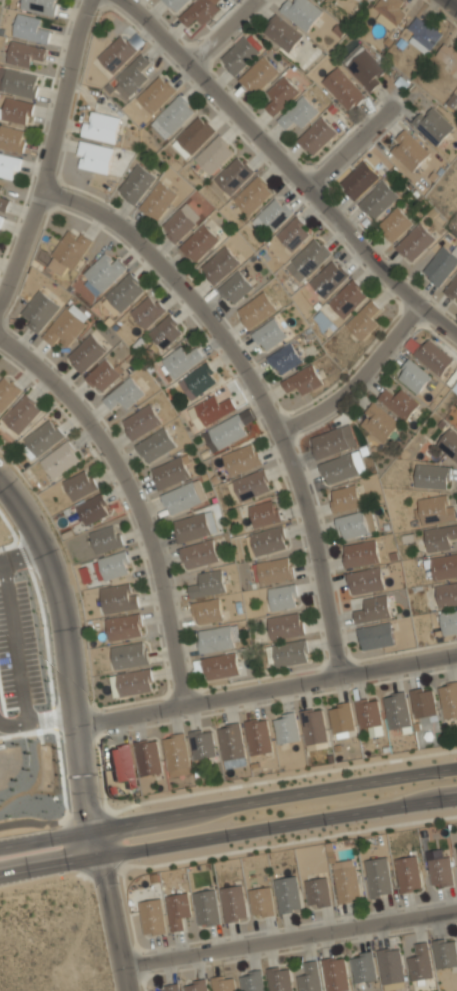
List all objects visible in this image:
building: (357, 0)
building: (371, 0)
building: (175, 4)
road: (451, 4)
building: (40, 6)
building: (200, 11)
building: (301, 13)
building: (389, 13)
building: (30, 28)
road: (220, 31)
building: (282, 34)
building: (423, 36)
building: (24, 53)
building: (116, 53)
building: (448, 55)
building: (239, 57)
building: (364, 67)
building: (130, 76)
building: (258, 76)
building: (18, 82)
building: (343, 89)
building: (156, 94)
building: (280, 95)
building: (16, 111)
building: (298, 114)
building: (172, 117)
building: (433, 125)
building: (101, 126)
building: (192, 137)
building: (316, 137)
building: (12, 138)
road: (345, 148)
building: (408, 151)
building: (213, 156)
road: (50, 157)
building: (94, 157)
building: (8, 166)
road: (287, 168)
building: (233, 177)
building: (359, 181)
building: (135, 184)
building: (1, 189)
building: (252, 196)
building: (158, 201)
building: (378, 201)
building: (4, 204)
building: (273, 215)
building: (1, 221)
building: (394, 225)
building: (177, 226)
building: (293, 234)
building: (199, 244)
building: (414, 244)
building: (69, 250)
building: (310, 258)
building: (219, 265)
building: (440, 266)
building: (104, 270)
building: (328, 280)
building: (235, 287)
building: (452, 289)
building: (124, 292)
building: (346, 298)
building: (255, 310)
building: (39, 311)
building: (146, 311)
building: (321, 320)
building: (363, 320)
building: (66, 326)
building: (165, 333)
building: (268, 334)
building: (86, 354)
building: (284, 358)
building: (433, 358)
building: (180, 361)
building: (103, 375)
building: (413, 378)
road: (355, 379)
building: (302, 380)
building: (197, 381)
road: (254, 385)
building: (455, 388)
building: (8, 391)
building: (124, 393)
building: (398, 403)
building: (209, 410)
building: (22, 414)
building: (140, 421)
building: (378, 422)
building: (227, 432)
building: (41, 438)
building: (333, 441)
building: (154, 445)
building: (448, 445)
building: (59, 459)
building: (241, 460)
building: (342, 467)
building: (171, 471)
building: (431, 476)
building: (80, 484)
building: (250, 485)
road: (129, 494)
building: (182, 497)
building: (344, 499)
building: (93, 508)
building: (434, 510)
building: (263, 513)
building: (355, 525)
building: (194, 526)
building: (439, 538)
building: (105, 539)
building: (268, 540)
building: (197, 553)
building: (359, 554)
road: (23, 555)
building: (115, 565)
building: (443, 567)
building: (274, 570)
building: (364, 580)
building: (207, 583)
building: (446, 594)
building: (282, 597)
building: (119, 598)
building: (372, 609)
building: (207, 611)
building: (449, 622)
building: (124, 626)
building: (285, 626)
building: (376, 636)
building: (217, 638)
road: (67, 645)
building: (289, 653)
building: (129, 655)
parking lot: (19, 656)
building: (219, 666)
road: (267, 679)
building: (135, 682)
building: (448, 700)
building: (422, 703)
building: (397, 711)
building: (368, 713)
building: (341, 718)
road: (40, 725)
building: (313, 727)
building: (286, 729)
building: (258, 736)
building: (202, 745)
building: (232, 745)
building: (177, 755)
building: (148, 757)
building: (122, 764)
road: (228, 805)
road: (228, 833)
building: (456, 848)
building: (440, 872)
building: (407, 874)
building: (377, 877)
building: (345, 880)
building: (317, 892)
building: (287, 894)
building: (261, 901)
building: (233, 903)
building: (206, 908)
road: (111, 909)
building: (177, 909)
building: (151, 916)
road: (292, 939)
building: (445, 955)
building: (419, 963)
building: (362, 968)
building: (391, 969)
building: (335, 974)
building: (309, 978)
building: (279, 979)
building: (252, 980)
building: (223, 983)
building: (196, 984)
building: (167, 987)

